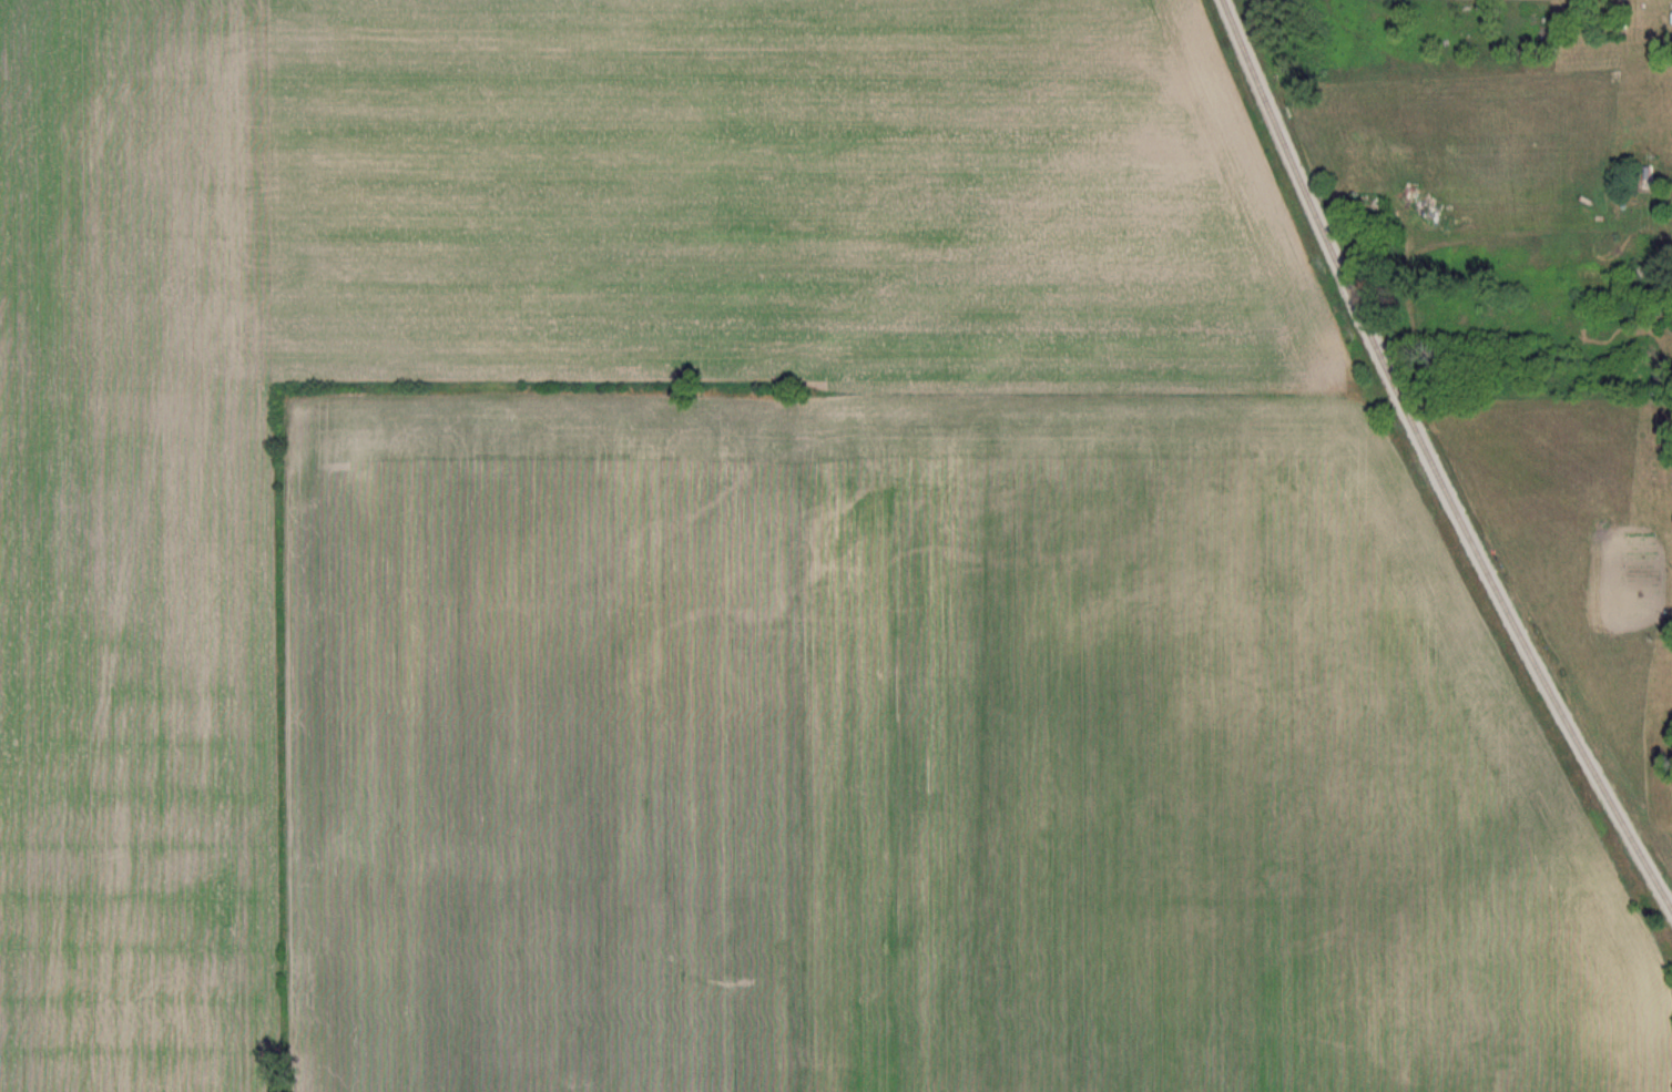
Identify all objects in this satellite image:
railway: (1433, 457)

